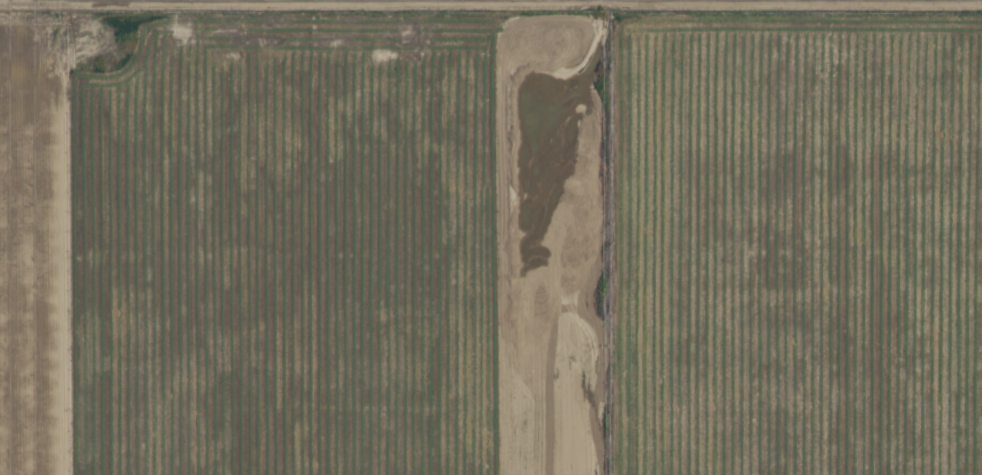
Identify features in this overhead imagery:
crop: (491, 237)

